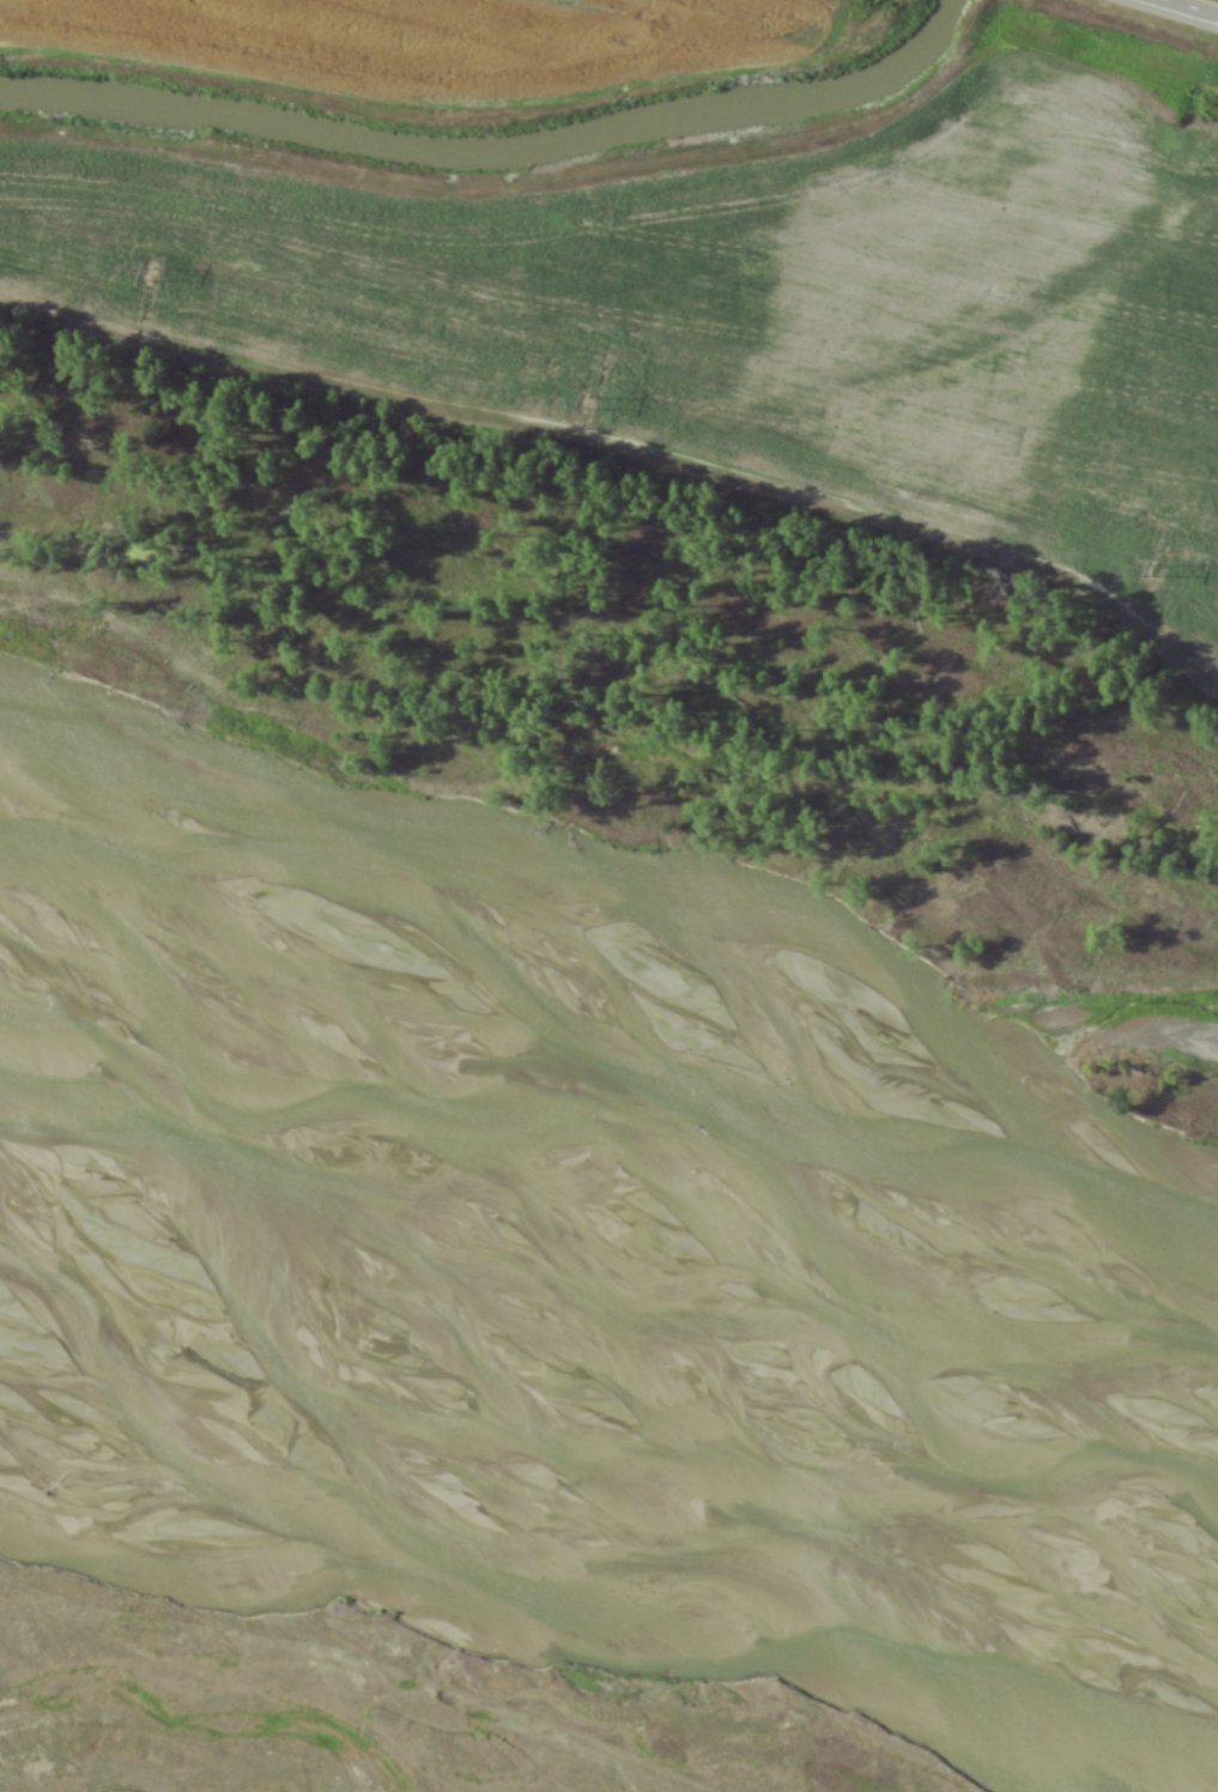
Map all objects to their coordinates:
road: (1193, 6)
power tower: (152, 277)
power tower: (587, 405)
power tower: (1155, 571)
river: (570, 1442)

